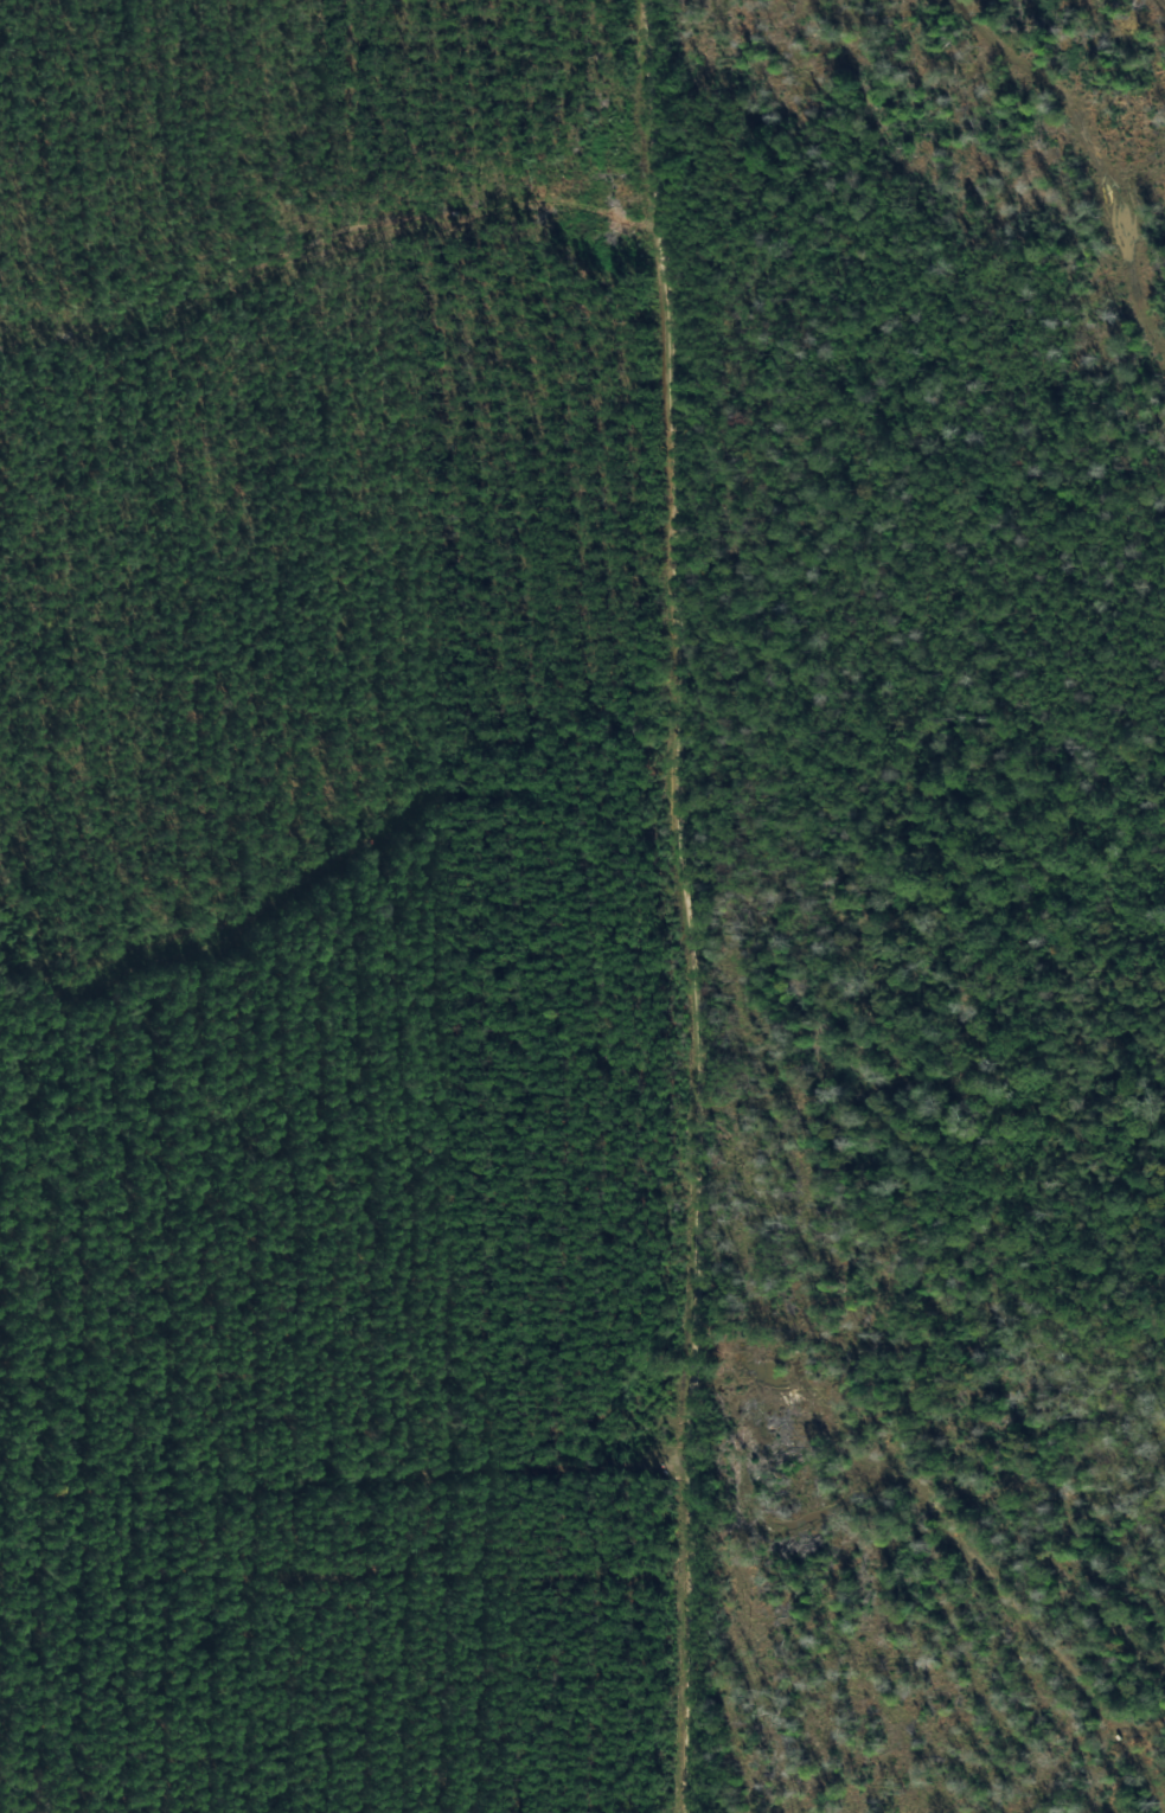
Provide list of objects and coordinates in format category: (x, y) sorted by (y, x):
road: (666, 905)

